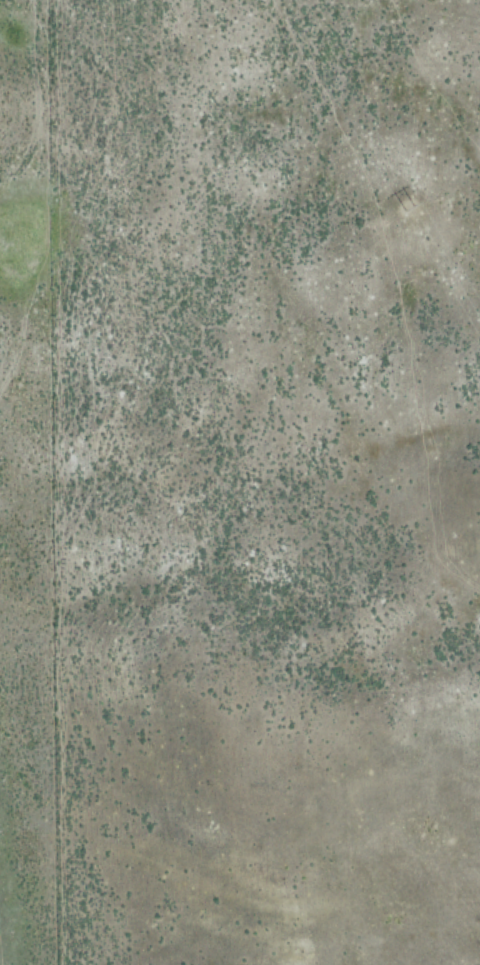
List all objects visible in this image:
power tower: (400, 207)

